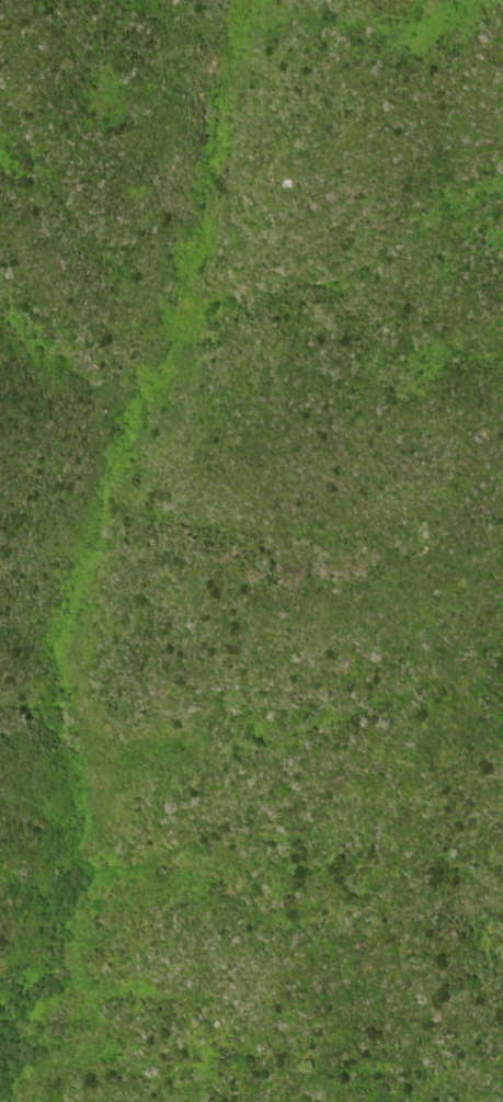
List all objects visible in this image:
park: (262, 205)

